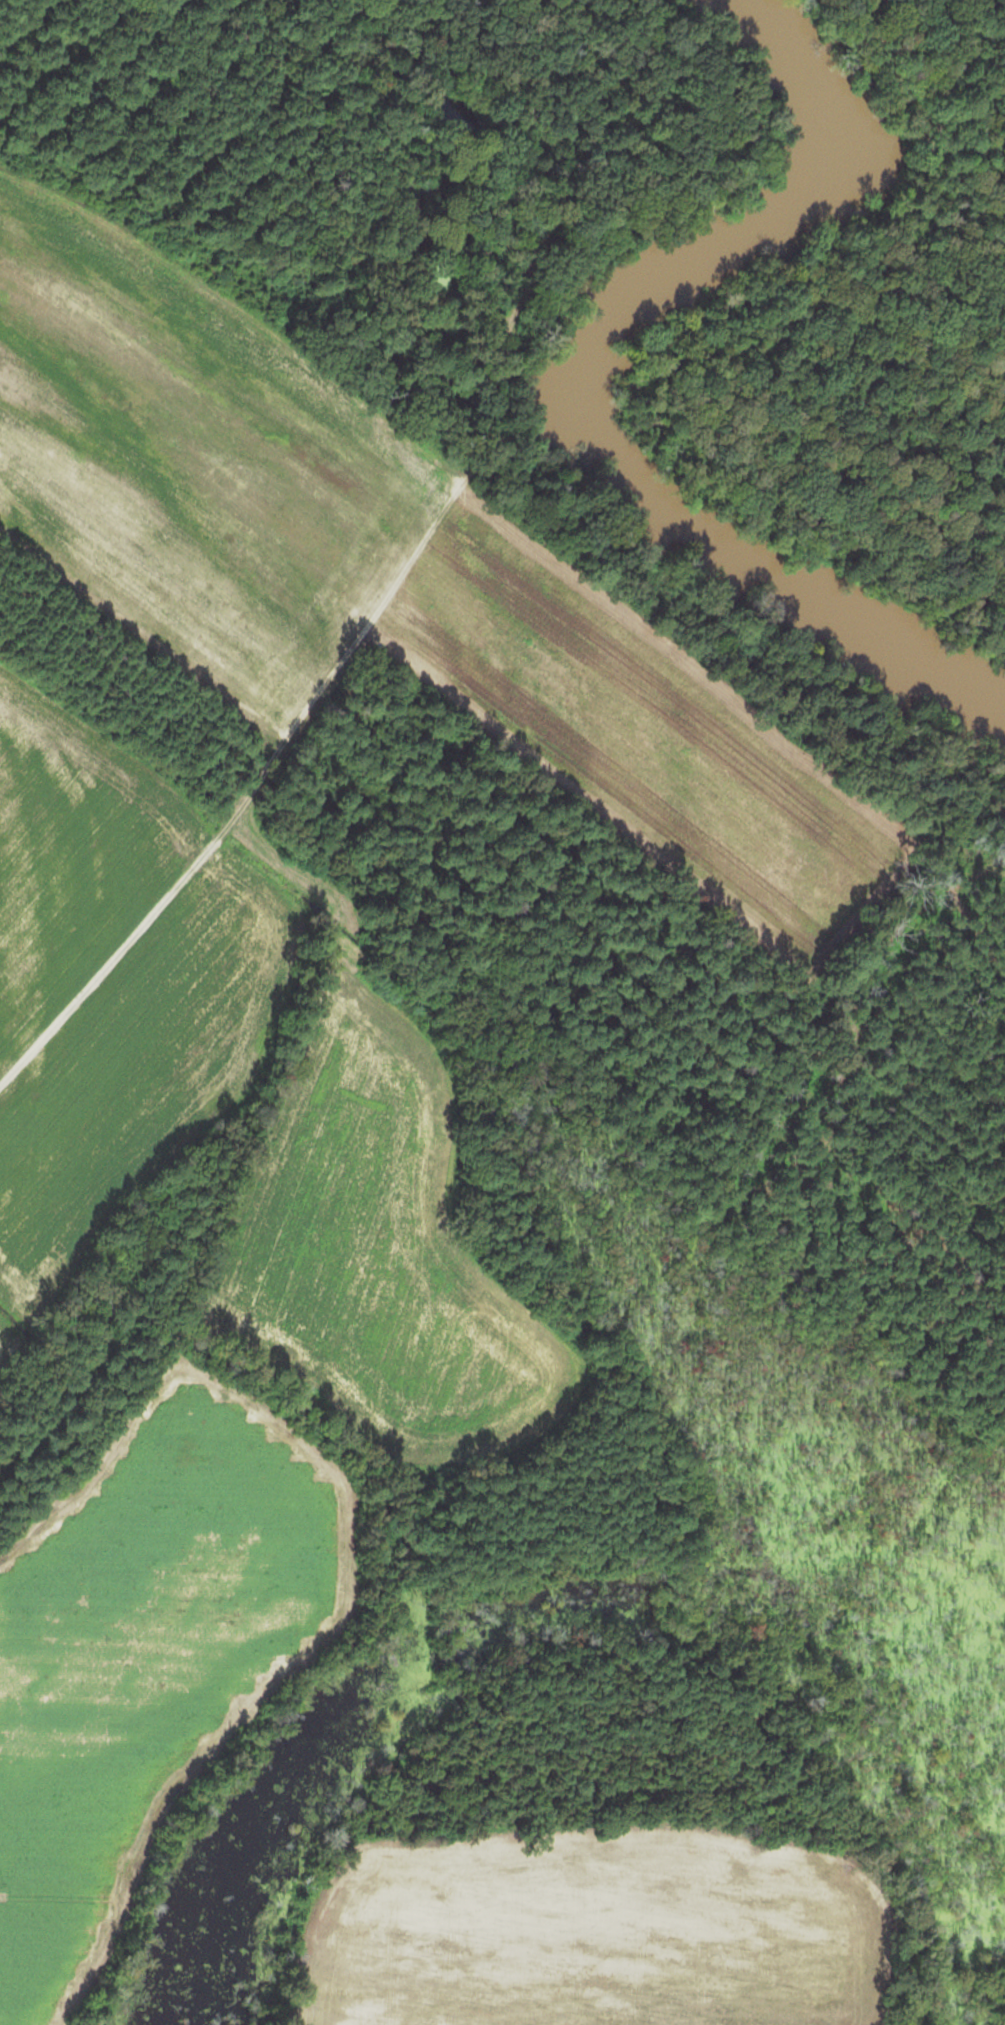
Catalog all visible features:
river: (592, 395)

